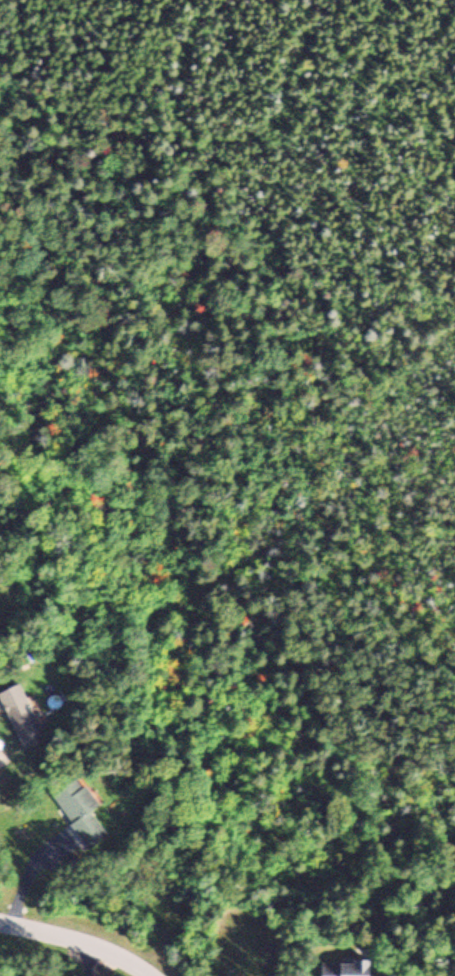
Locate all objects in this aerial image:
building: (18, 712)
building: (78, 809)
road: (84, 937)
building: (347, 967)

